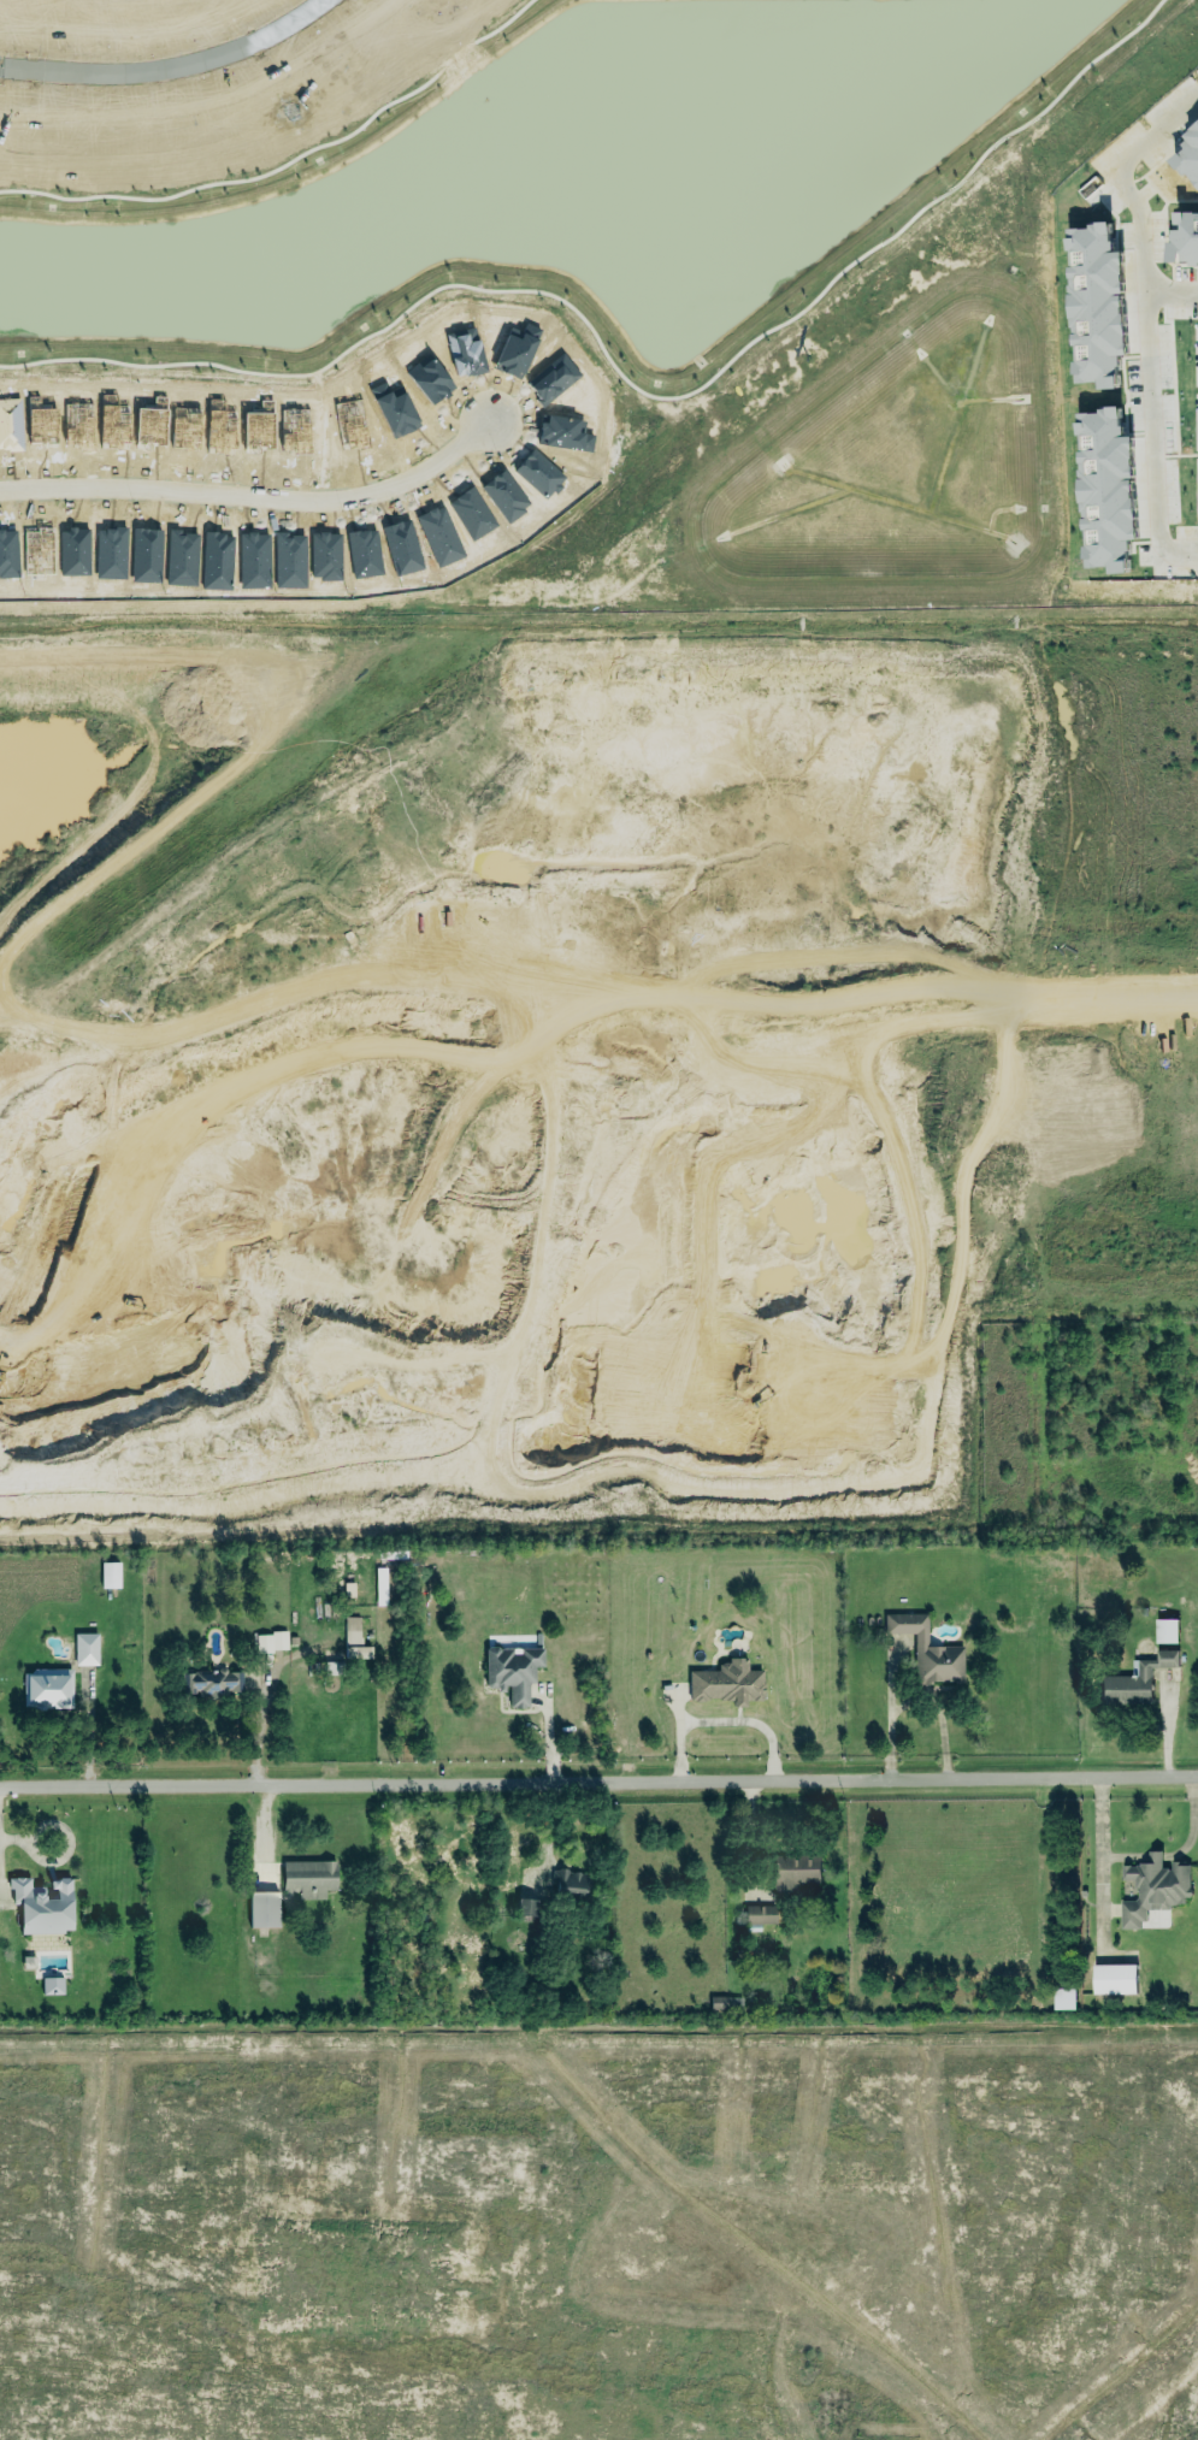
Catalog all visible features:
road: (173, 65)
building: (1190, 148)
building: (1185, 236)
building: (1090, 238)
building: (1096, 278)
road: (1170, 286)
road: (1145, 319)
building: (1110, 486)
road: (250, 494)
road: (868, 991)
quarry: (577, 1062)
building: (110, 1573)
building: (1167, 1630)
building: (354, 1638)
building: (271, 1641)
building: (84, 1648)
building: (927, 1649)
building: (512, 1671)
building: (1135, 1679)
building: (208, 1682)
building: (724, 1682)
building: (46, 1688)
road: (722, 1719)
road: (598, 1770)
road: (1188, 1818)
road: (1096, 1836)
road: (1155, 1854)
building: (795, 1871)
building: (306, 1878)
building: (567, 1881)
building: (1152, 1887)
building: (40, 1902)
building: (525, 1906)
building: (262, 1909)
building: (757, 1915)
building: (1114, 1978)
building: (52, 1985)
building: (1064, 1997)

